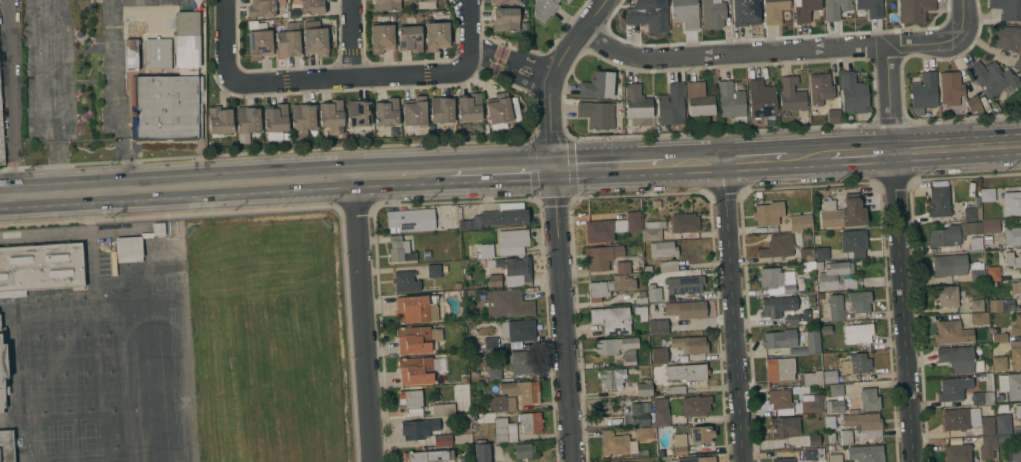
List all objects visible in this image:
building: (423, 0)
building: (568, 0)
building: (505, 1)
building: (424, 3)
building: (387, 5)
building: (312, 6)
building: (263, 7)
building: (871, 7)
building: (1007, 8)
building: (544, 9)
building: (804, 9)
building: (835, 9)
building: (914, 10)
building: (743, 11)
building: (774, 11)
building: (685, 13)
building: (713, 13)
building: (648, 15)
road: (960, 16)
building: (506, 19)
road: (467, 26)
building: (437, 35)
building: (381, 37)
building: (1006, 37)
building: (189, 38)
building: (316, 38)
road: (349, 38)
building: (410, 38)
road: (224, 39)
building: (288, 40)
building: (260, 44)
road: (766, 51)
building: (157, 53)
building: (130, 54)
road: (510, 63)
building: (1017, 64)
road: (356, 76)
road: (550, 76)
building: (992, 78)
building: (597, 85)
building: (950, 87)
building: (820, 88)
building: (923, 92)
building: (853, 93)
building: (790, 94)
road: (122, 95)
road: (10, 98)
road: (888, 98)
building: (698, 99)
building: (762, 100)
building: (731, 101)
building: (637, 102)
building: (671, 104)
building: (973, 104)
building: (165, 107)
building: (469, 107)
building: (441, 109)
building: (415, 111)
building: (499, 111)
building: (359, 112)
building: (387, 112)
building: (331, 113)
building: (596, 114)
building: (833, 115)
building: (248, 119)
building: (302, 119)
building: (220, 120)
building: (276, 121)
road: (52, 129)
road: (549, 137)
building: (1, 138)
road: (956, 147)
road: (861, 152)
road: (808, 155)
road: (754, 158)
road: (56, 161)
road: (636, 164)
road: (569, 167)
road: (533, 168)
traffic signals: (552, 168)
road: (452, 173)
road: (812, 186)
road: (176, 188)
road: (724, 190)
road: (741, 190)
road: (641, 194)
building: (987, 194)
road: (709, 196)
road: (553, 198)
road: (572, 199)
road: (535, 200)
building: (938, 201)
road: (458, 202)
building: (1011, 203)
road: (294, 208)
road: (354, 208)
road: (338, 209)
road: (371, 209)
building: (843, 212)
building: (768, 213)
building: (972, 213)
building: (498, 216)
building: (410, 219)
building: (684, 222)
building: (800, 223)
building: (990, 226)
building: (611, 227)
building: (158, 228)
building: (652, 231)
building: (952, 233)
building: (1012, 236)
building: (513, 238)
building: (462, 242)
building: (853, 242)
building: (975, 243)
building: (988, 245)
building: (777, 246)
building: (128, 249)
building: (400, 249)
building: (663, 249)
building: (482, 250)
building: (821, 253)
building: (426, 254)
building: (463, 254)
building: (806, 254)
building: (601, 256)
building: (1012, 259)
building: (668, 265)
building: (819, 265)
building: (949, 265)
building: (42, 267)
building: (622, 267)
building: (647, 269)
building: (433, 270)
building: (514, 270)
building: (977, 271)
building: (993, 273)
building: (467, 275)
building: (836, 276)
building: (494, 280)
building: (776, 280)
building: (405, 281)
building: (684, 284)
building: (457, 285)
building: (801, 286)
building: (609, 287)
building: (1015, 287)
building: (653, 292)
building: (12, 293)
building: (820, 295)
building: (946, 296)
building: (641, 298)
building: (507, 303)
building: (859, 303)
building: (976, 304)
building: (995, 305)
building: (777, 306)
road: (901, 306)
building: (835, 307)
building: (416, 309)
building: (686, 309)
building: (467, 311)
road: (732, 311)
building: (641, 312)
road: (562, 315)
building: (791, 318)
building: (979, 318)
road: (362, 319)
building: (612, 319)
building: (1015, 324)
building: (657, 326)
building: (826, 329)
building: (518, 330)
building: (952, 332)
building: (858, 333)
building: (999, 337)
building: (417, 339)
building: (779, 339)
park: (264, 341)
building: (812, 341)
building: (490, 343)
building: (690, 344)
building: (615, 345)
building: (659, 355)
building: (1015, 355)
building: (629, 357)
building: (959, 359)
building: (524, 362)
building: (999, 363)
building: (855, 364)
building: (3, 369)
building: (419, 369)
building: (779, 369)
building: (686, 372)
building: (494, 373)
building: (829, 376)
building: (812, 377)
building: (611, 378)
building: (464, 379)
building: (1010, 385)
building: (643, 388)
building: (953, 388)
building: (676, 389)
building: (522, 390)
building: (835, 390)
building: (982, 397)
building: (999, 397)
building: (779, 398)
building: (869, 399)
building: (411, 402)
building: (497, 403)
building: (812, 403)
building: (695, 405)
building: (835, 406)
building: (443, 409)
building: (661, 411)
building: (852, 411)
building: (1020, 411)
building: (638, 414)
building: (956, 419)
building: (530, 422)
building: (829, 422)
building: (1003, 423)
building: (864, 424)
building: (987, 425)
building: (784, 426)
building: (482, 427)
building: (413, 430)
building: (505, 430)
building: (645, 433)
building: (701, 434)
building: (831, 437)
building: (846, 437)
building: (1003, 438)
building: (443, 440)
building: (814, 440)
building: (679, 444)
building: (619, 445)
building: (6, 446)
building: (987, 446)
building: (524, 450)
building: (482, 452)
building: (660, 452)
building: (1015, 452)
building: (814, 453)
building: (865, 453)
building: (957, 453)
building: (834, 455)
building: (428, 456)
building: (462, 458)
building: (695, 459)
building: (782, 459)

